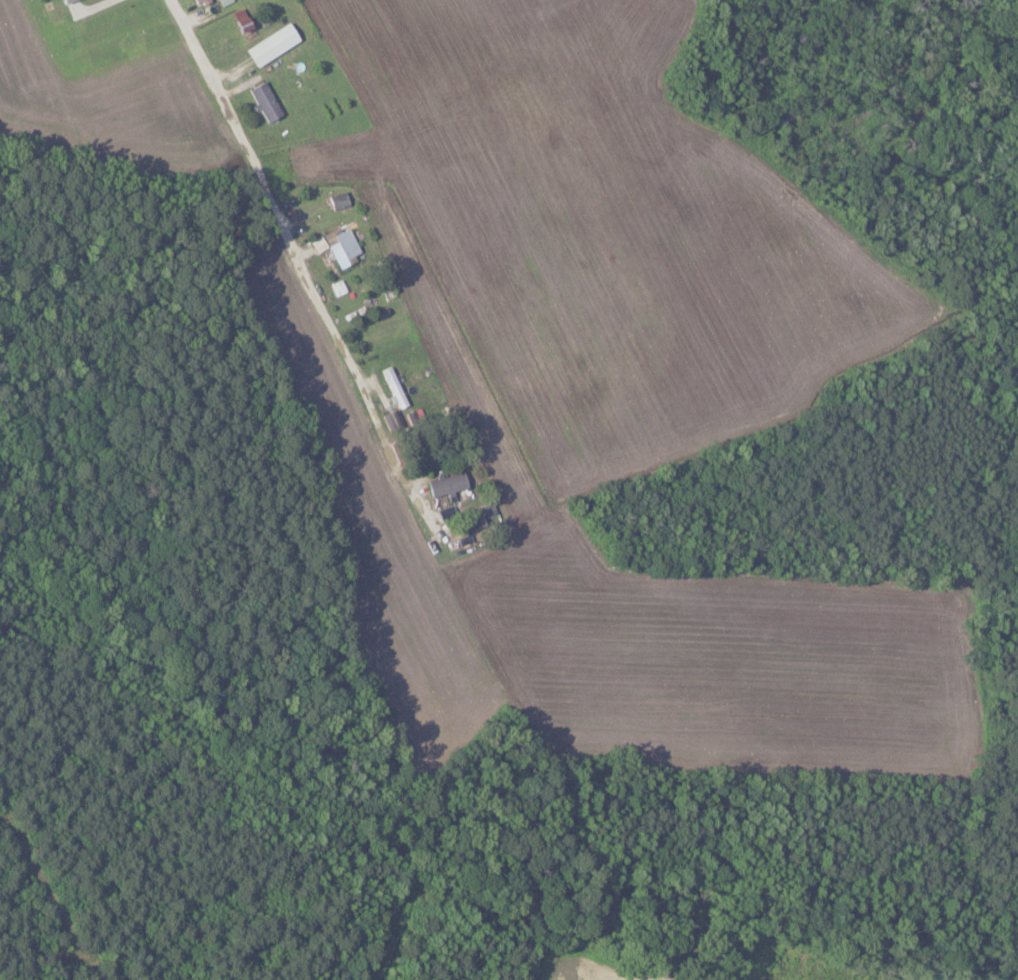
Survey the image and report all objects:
building: (62, 0)
building: (199, 1)
building: (240, 20)
building: (271, 44)
building: (264, 101)
building: (337, 200)
building: (337, 247)
road: (303, 258)
building: (392, 387)
building: (445, 484)

